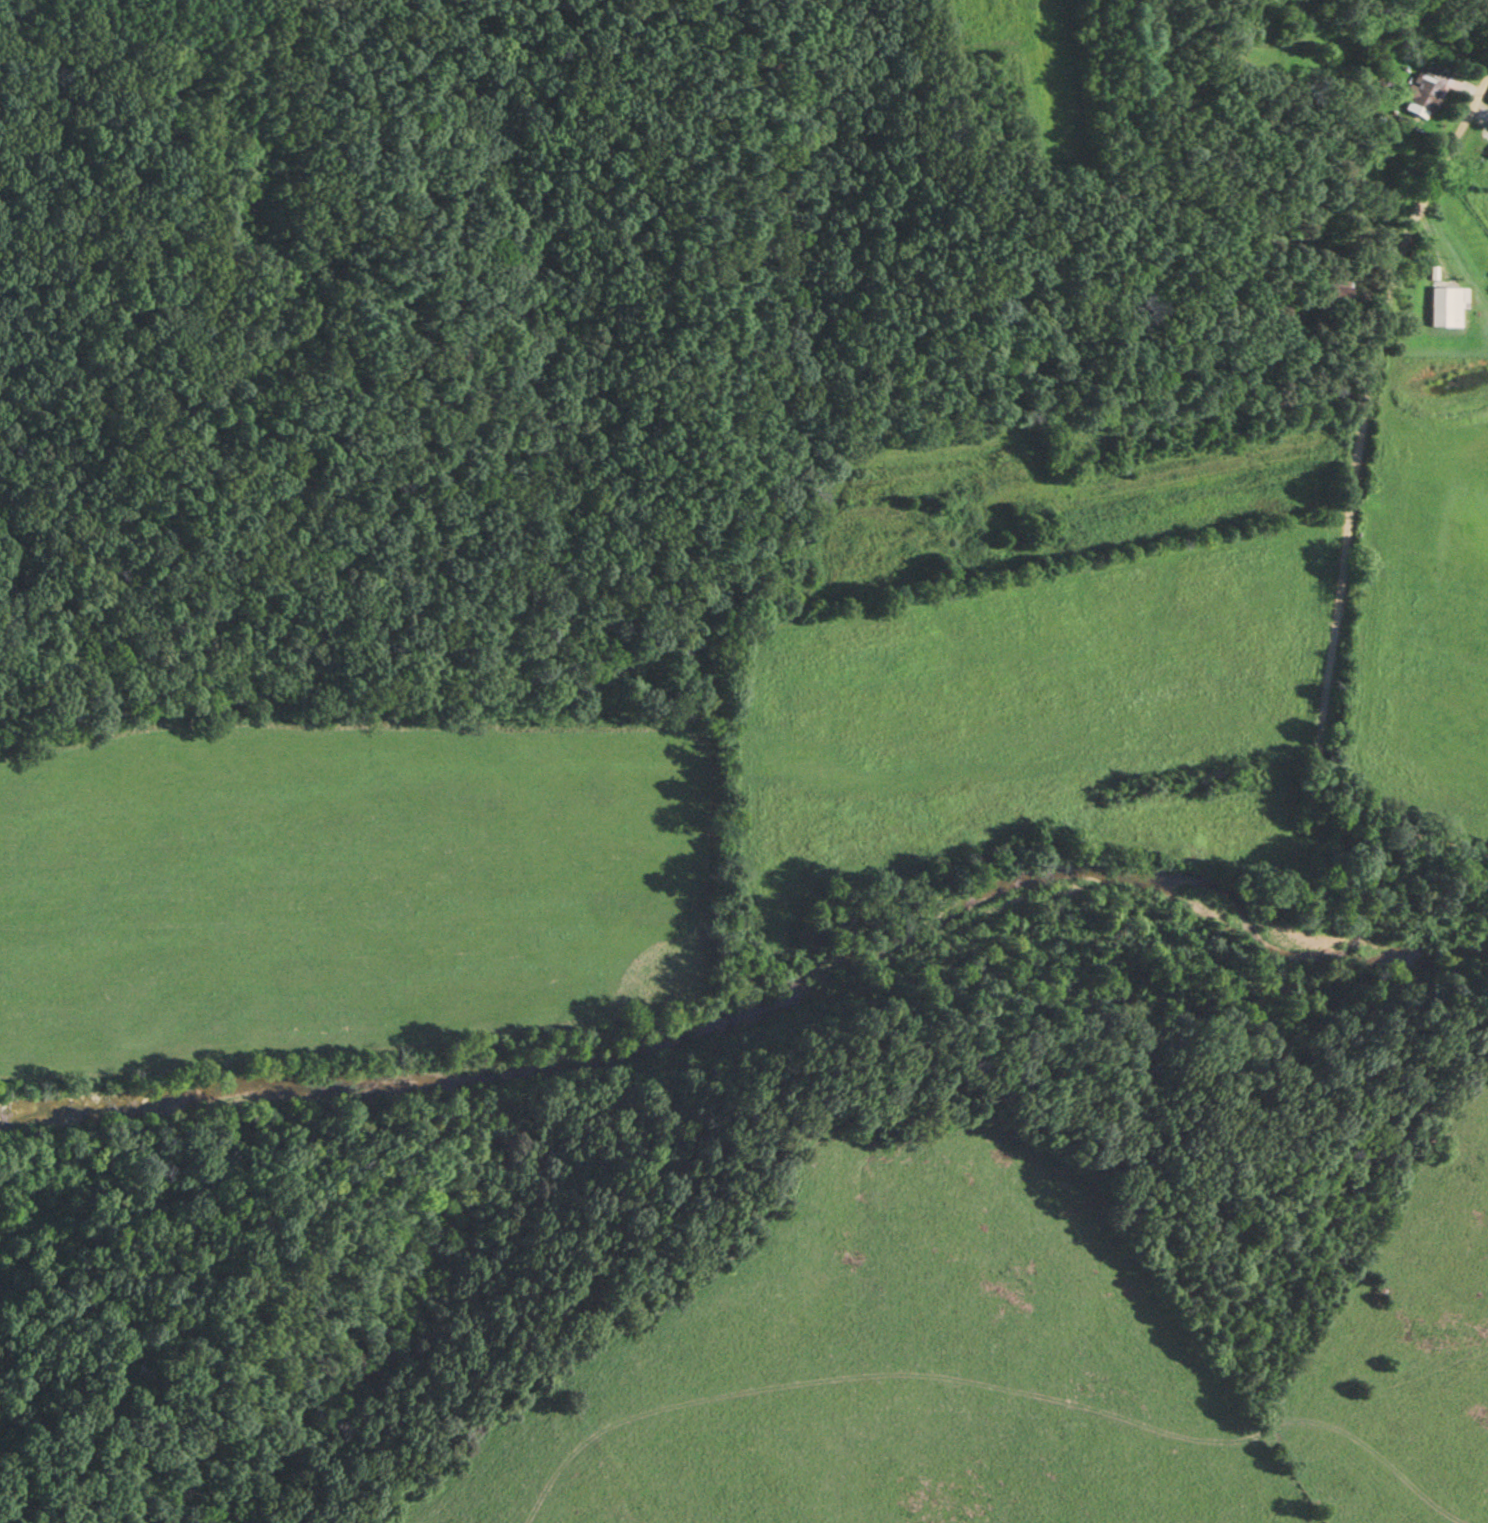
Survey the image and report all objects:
building: (1429, 88)
building: (1448, 305)
road: (1358, 507)

